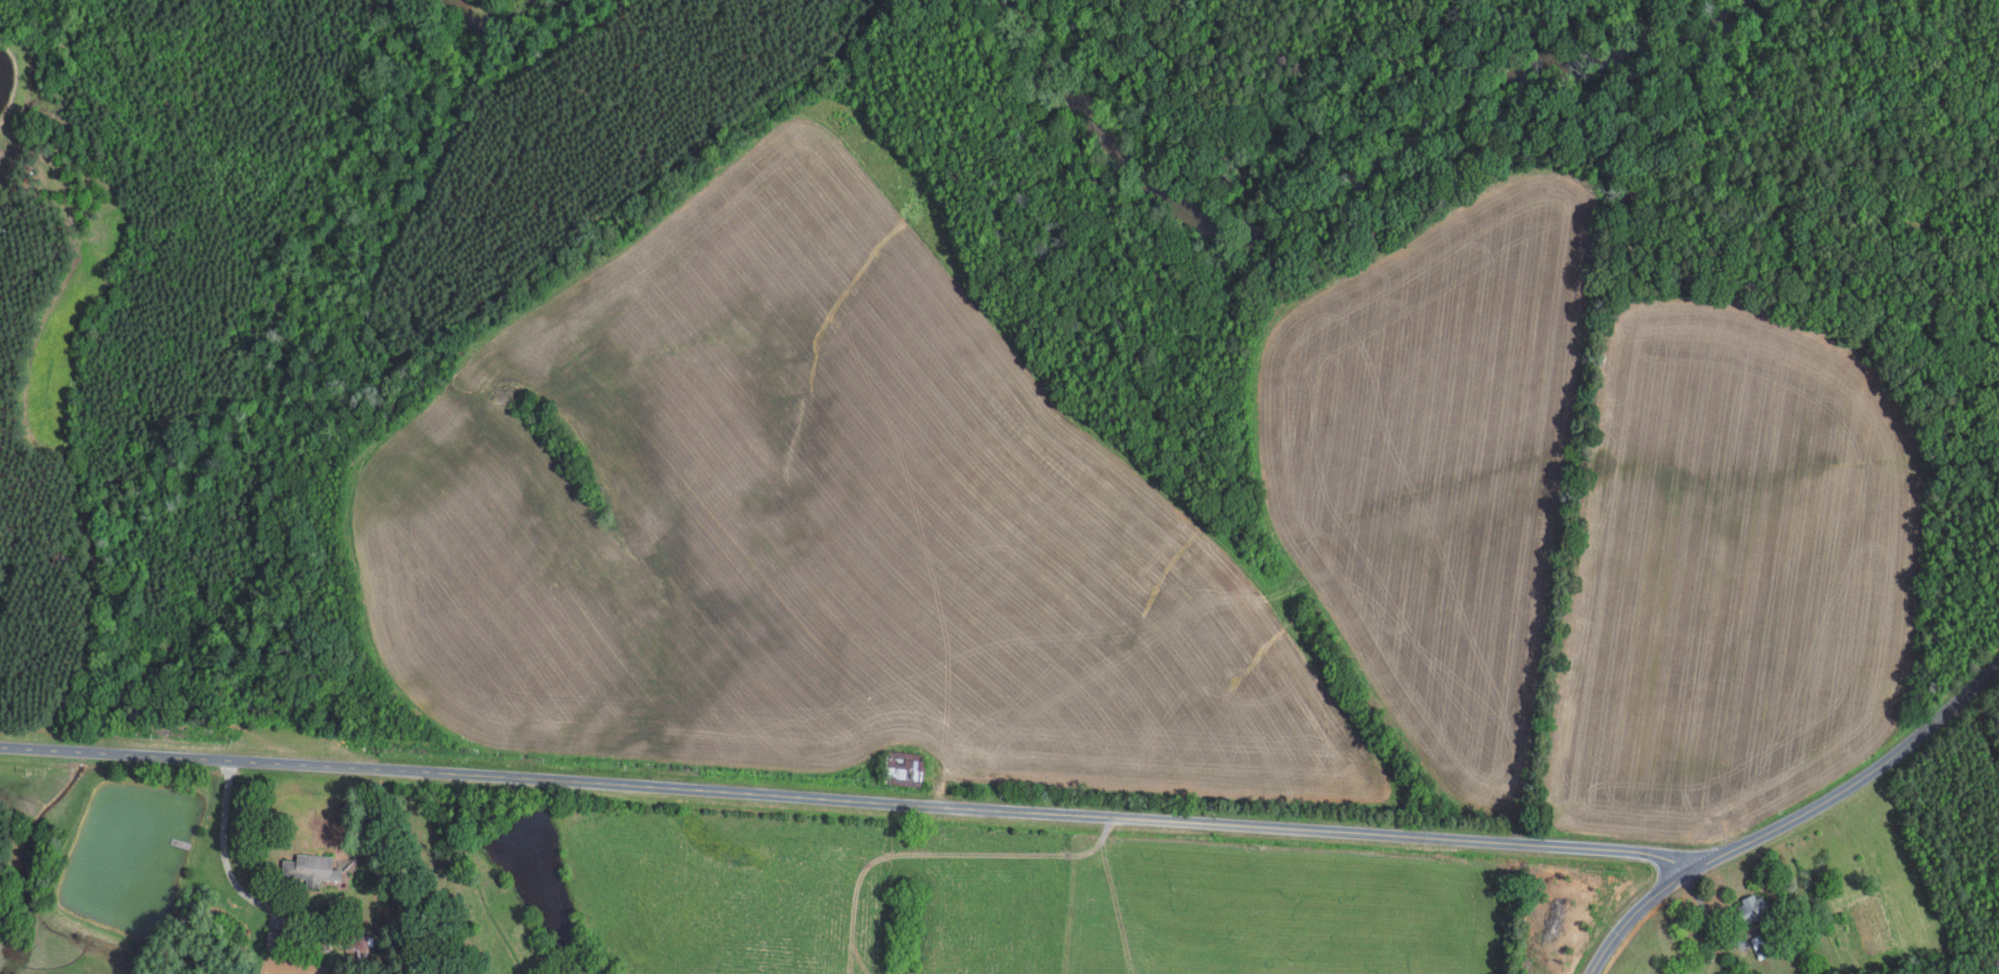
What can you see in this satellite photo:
building: (906, 768)
road: (854, 798)
road: (1792, 819)
road: (1103, 833)
road: (224, 846)
road: (937, 853)
building: (312, 868)
building: (1757, 907)
building: (274, 940)
road: (851, 958)
road: (860, 958)

